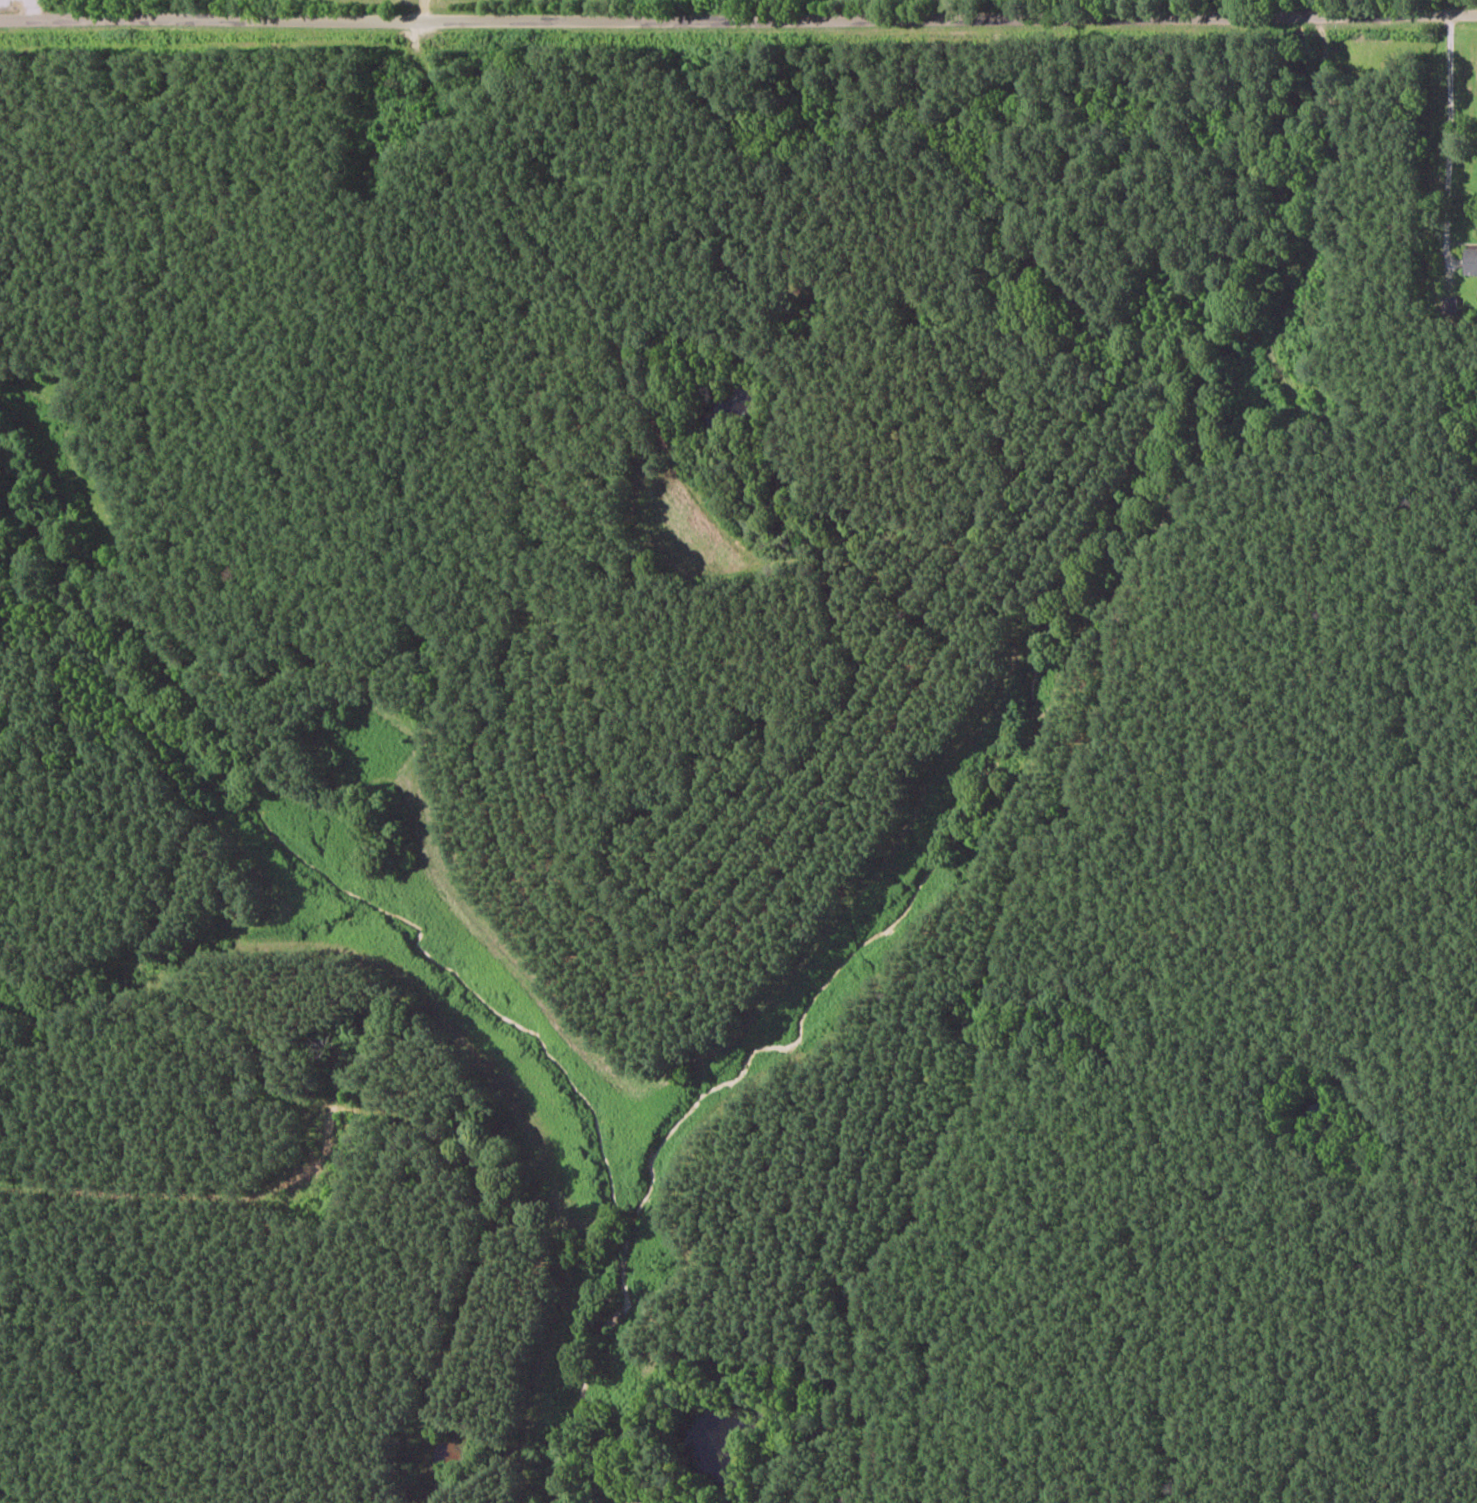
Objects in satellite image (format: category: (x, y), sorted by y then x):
road: (451, 5)
road: (734, 7)
building: (1471, 260)
road: (87, 1238)

